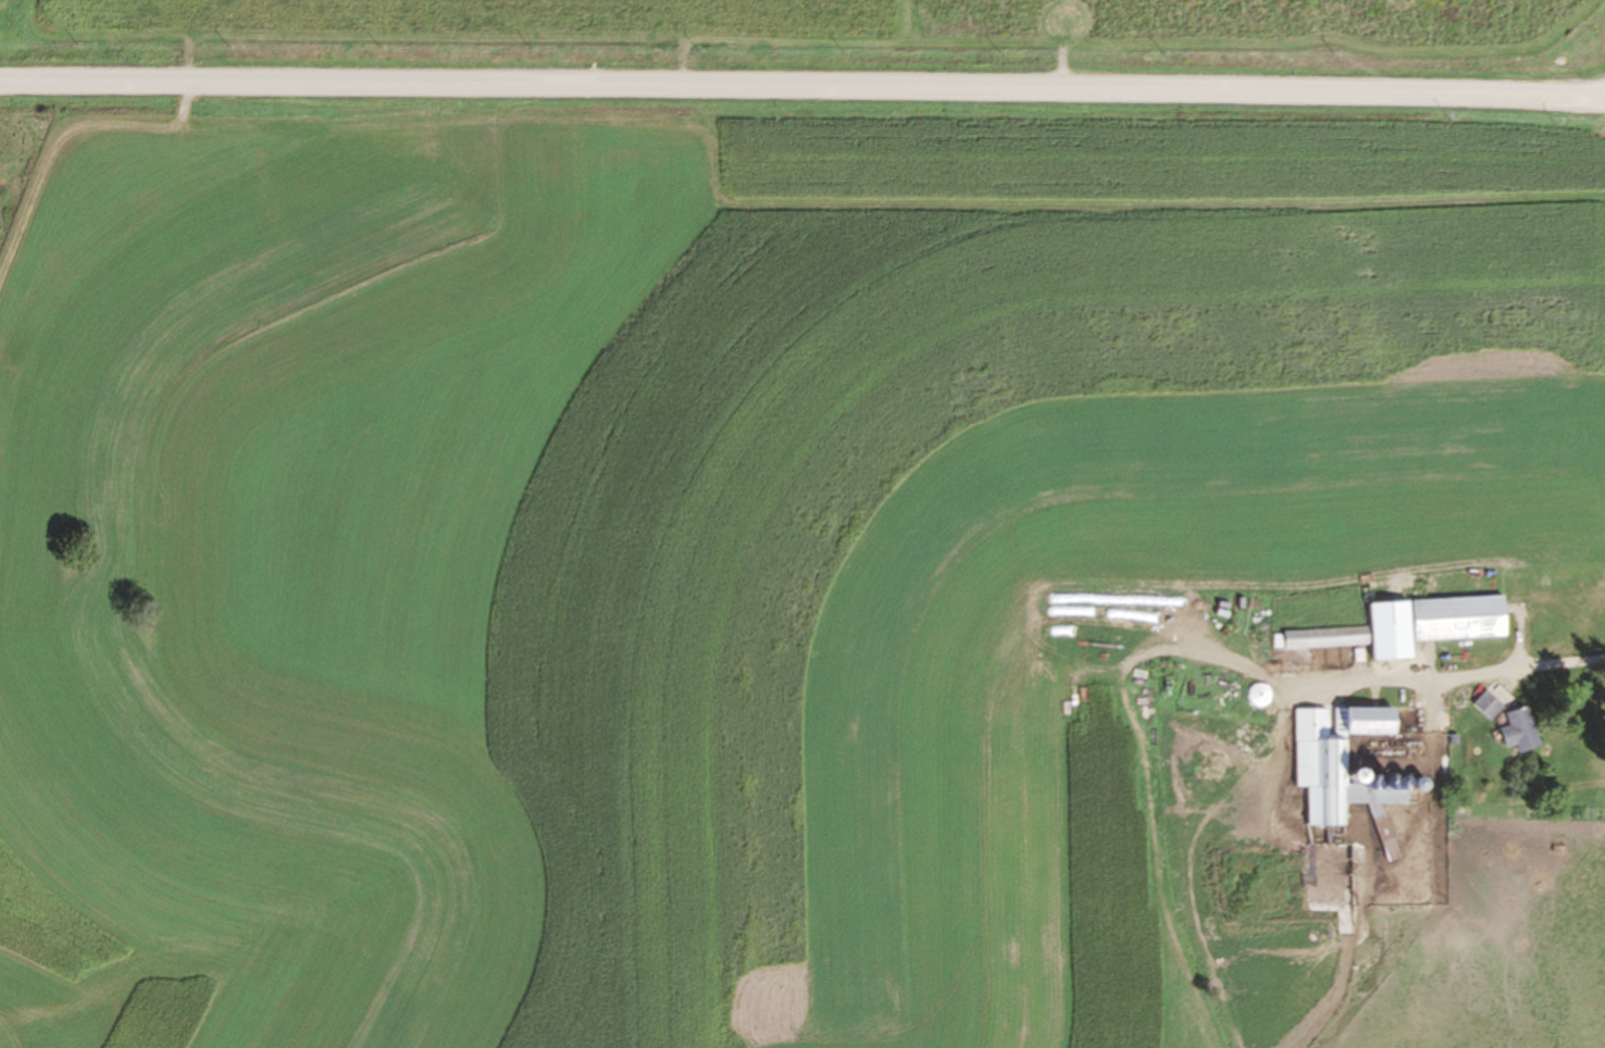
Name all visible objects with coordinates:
road: (802, 91)
building: (1451, 619)
building: (1326, 639)
building: (1358, 722)
building: (1506, 732)
building: (1342, 788)

